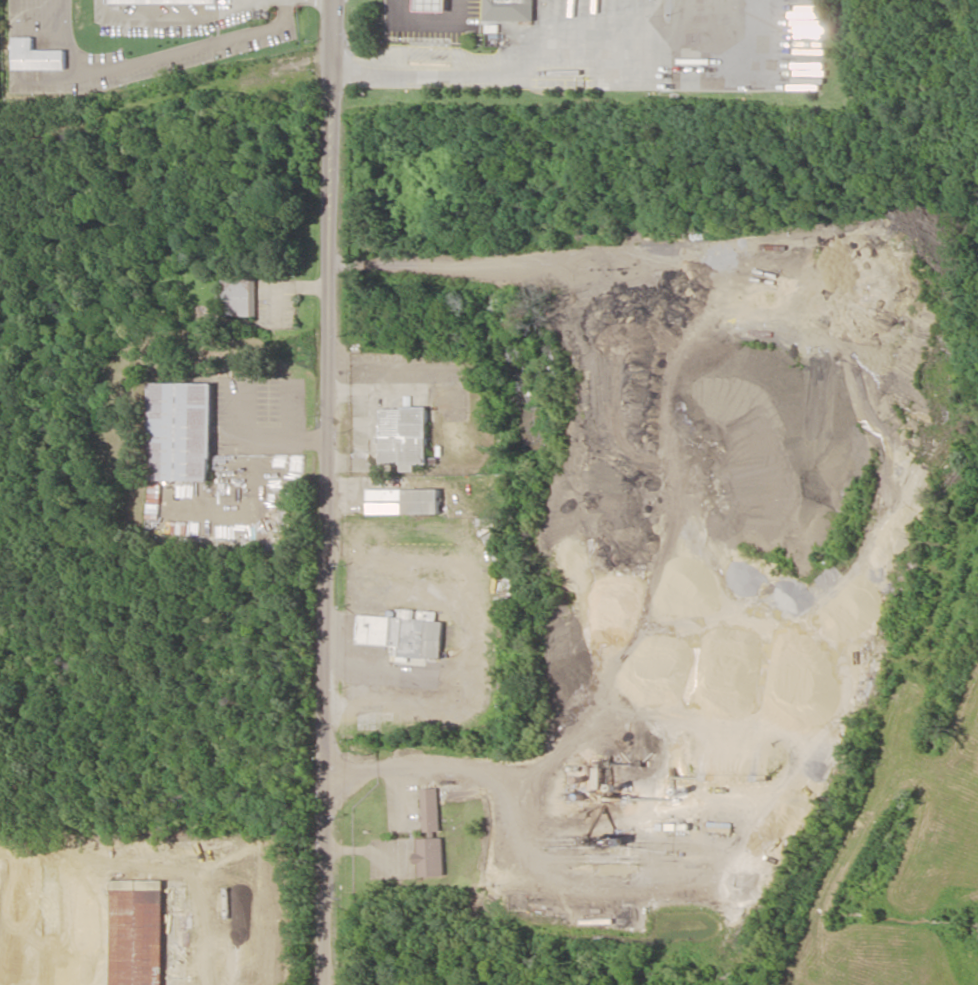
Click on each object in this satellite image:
building: (162, 1)
building: (479, 9)
road: (164, 13)
road: (11, 15)
building: (35, 56)
road: (157, 56)
building: (239, 296)
building: (180, 431)
building: (404, 437)
road: (327, 492)
building: (403, 501)
building: (404, 633)
building: (430, 809)
building: (430, 856)
building: (137, 932)

